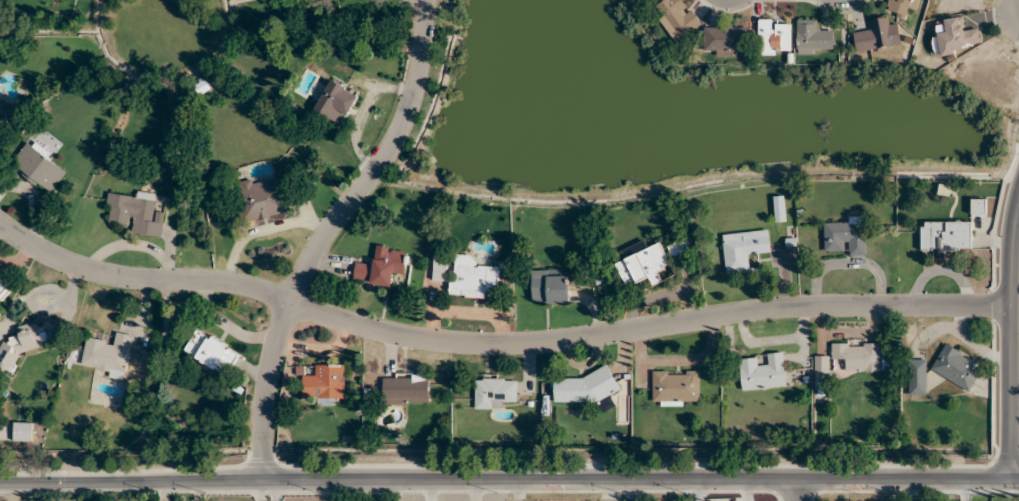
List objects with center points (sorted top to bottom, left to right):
building: (901, 6)
road: (1011, 17)
building: (677, 19)
building: (877, 36)
building: (954, 36)
building: (775, 37)
building: (813, 38)
building: (724, 40)
building: (336, 101)
building: (39, 167)
building: (263, 200)
building: (779, 208)
building: (137, 213)
road: (1016, 222)
building: (845, 235)
building: (945, 236)
building: (680, 247)
building: (743, 248)
building: (644, 266)
building: (382, 267)
building: (439, 270)
building: (473, 277)
building: (2, 286)
road: (296, 286)
building: (550, 287)
road: (648, 328)
road: (1012, 337)
building: (21, 344)
building: (210, 352)
building: (108, 354)
building: (860, 356)
building: (956, 367)
building: (763, 372)
building: (822, 372)
building: (917, 377)
building: (324, 384)
building: (584, 387)
building: (675, 387)
building: (405, 389)
road: (267, 390)
building: (494, 392)
building: (22, 431)
road: (509, 482)
road: (797, 491)
road: (14, 492)

